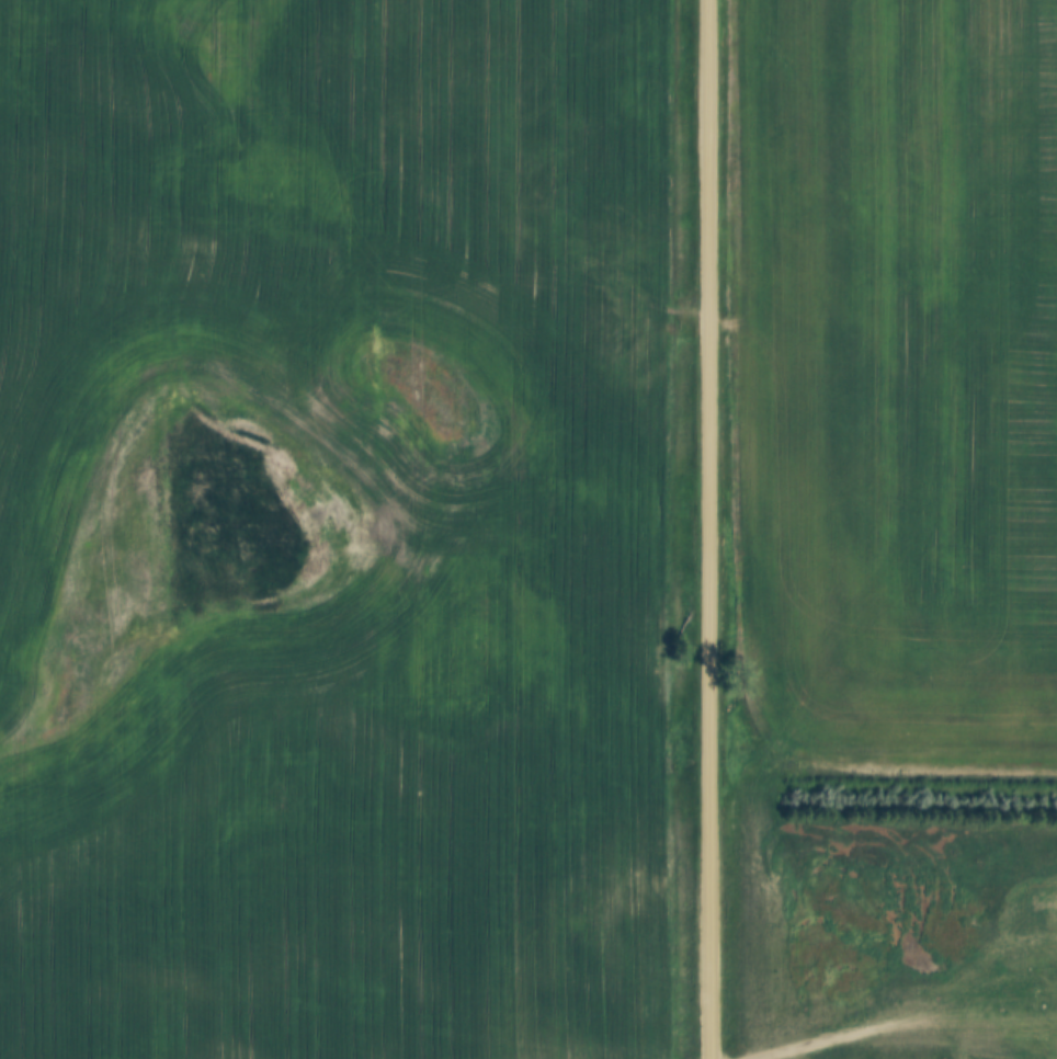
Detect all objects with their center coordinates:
road: (711, 529)

